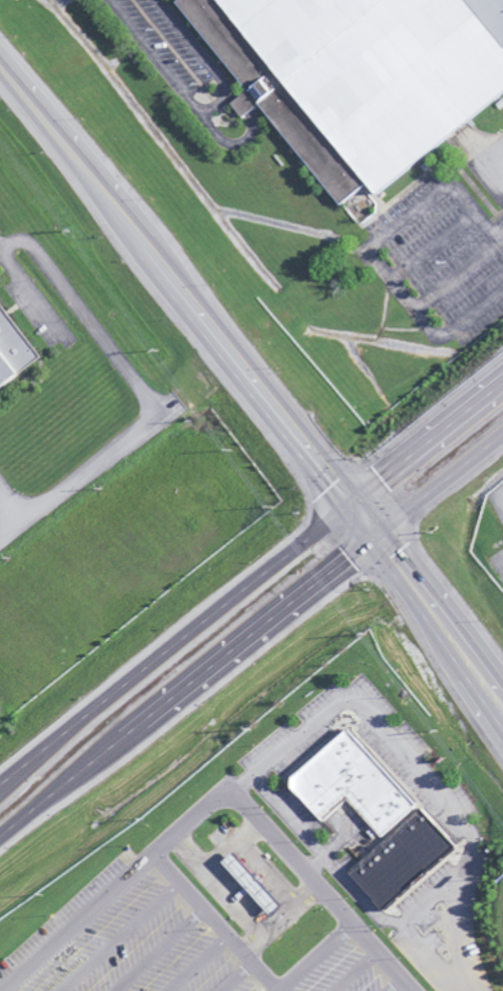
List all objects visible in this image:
building: (361, 75)
building: (11, 349)
road: (253, 387)
road: (116, 452)
traffic signals: (348, 507)
traffic signals: (381, 544)
road: (251, 586)
road: (253, 645)
road: (416, 768)
building: (354, 784)
road: (219, 799)
building: (402, 858)
road: (316, 862)
road: (346, 876)
building: (247, 885)
road: (218, 922)
road: (121, 936)
road: (161, 950)
road: (430, 953)
road: (317, 958)
road: (198, 963)
road: (359, 972)
road: (240, 977)
road: (392, 983)

